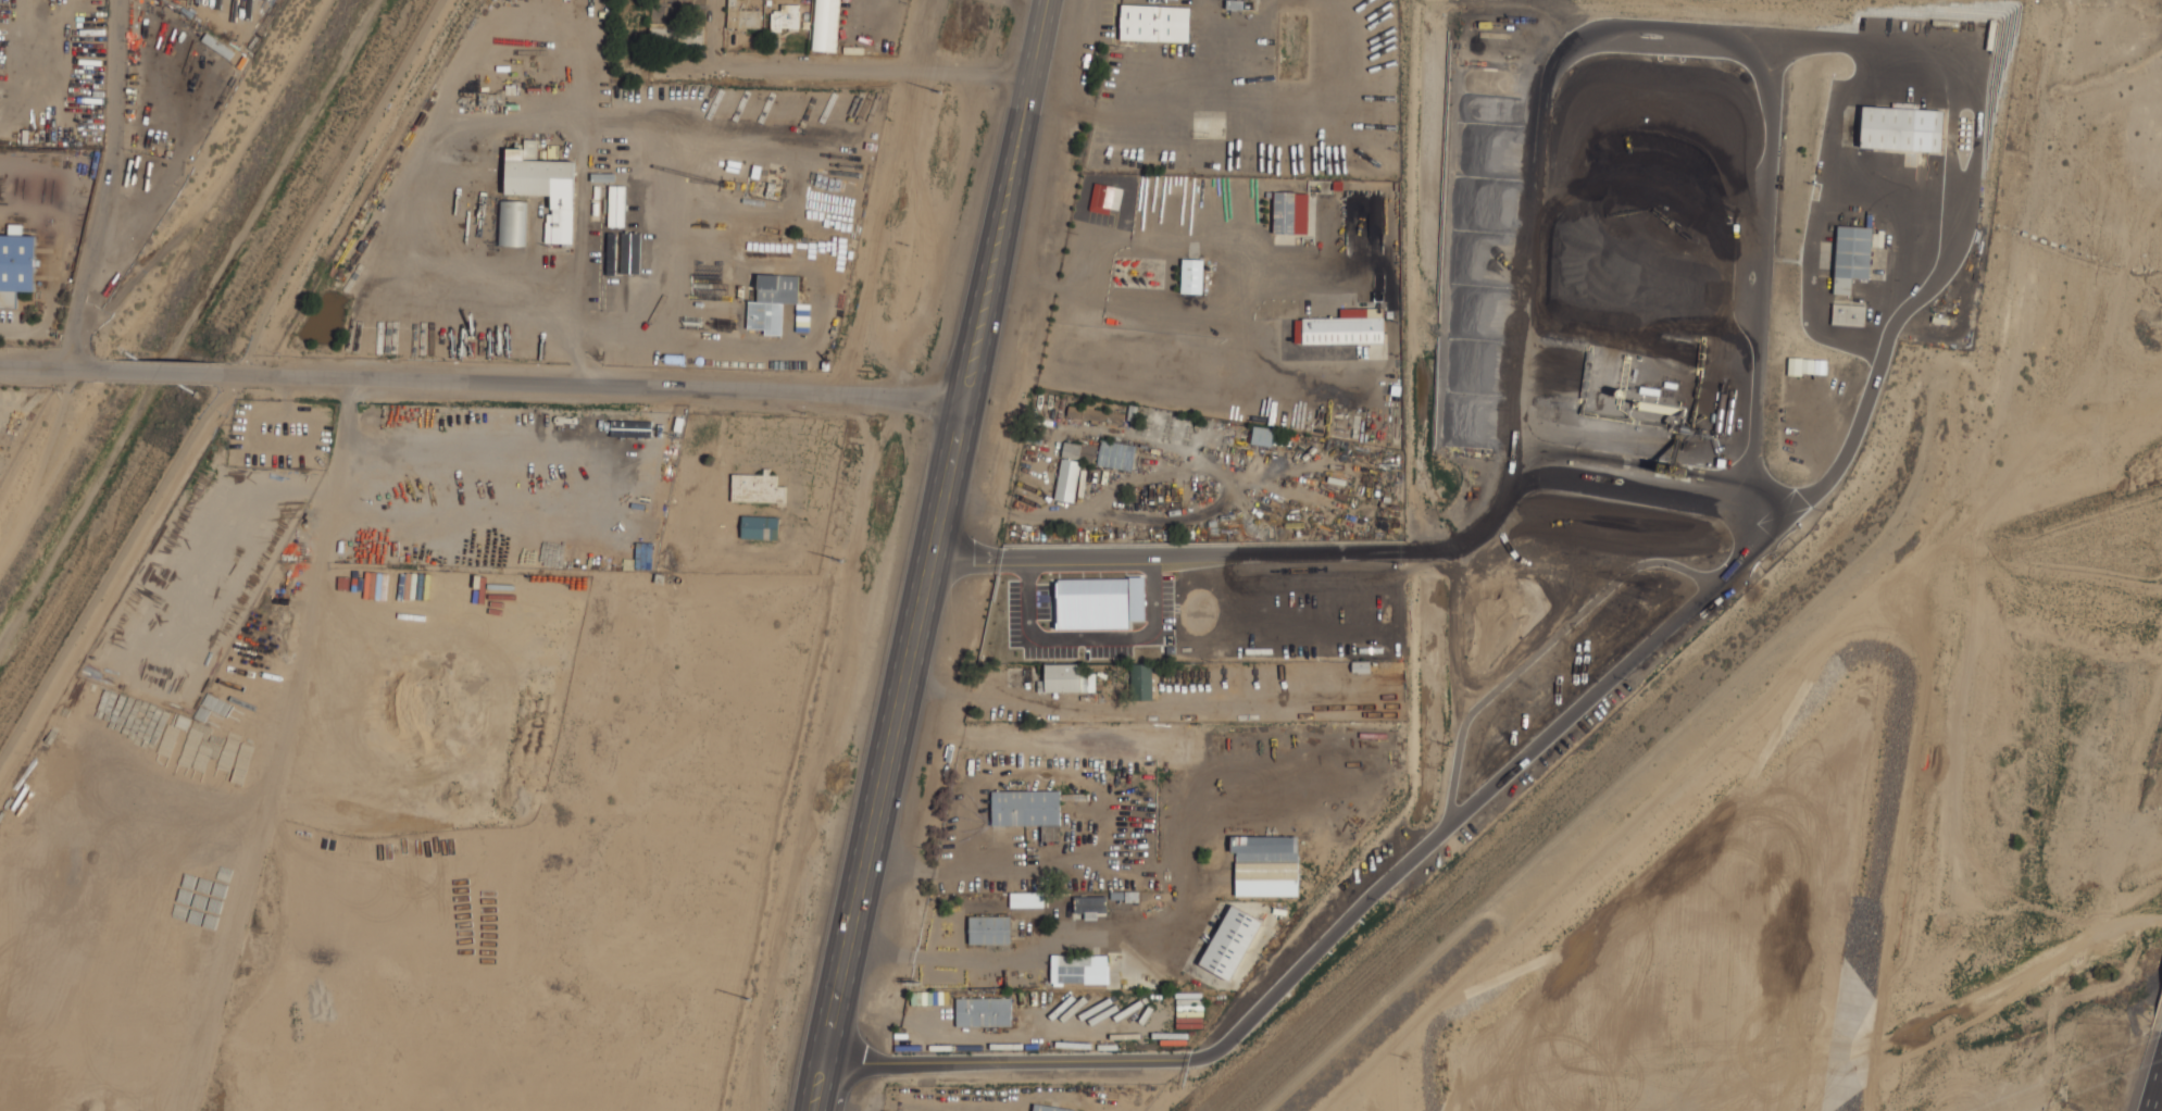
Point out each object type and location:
building: (738, 16)
building: (785, 17)
building: (1154, 23)
building: (825, 25)
road: (833, 68)
building: (1901, 128)
road: (1952, 182)
building: (543, 185)
road: (103, 186)
building: (1104, 200)
building: (1290, 212)
building: (512, 223)
road: (1119, 244)
building: (1851, 255)
road: (580, 260)
building: (16, 266)
building: (1192, 275)
building: (772, 301)
building: (1848, 314)
building: (1345, 327)
road: (47, 371)
road: (151, 372)
road: (588, 384)
road: (230, 385)
building: (1262, 435)
building: (1071, 450)
building: (1116, 454)
building: (1067, 479)
building: (755, 488)
road: (1648, 494)
building: (759, 527)
road: (934, 555)
building: (1067, 678)
building: (1140, 681)
building: (1025, 807)
road: (1110, 832)
building: (1265, 864)
building: (1090, 903)
building: (989, 929)
building: (1230, 943)
road: (977, 960)
building: (1079, 969)
building: (983, 1011)
road: (975, 1035)
road: (2150, 1072)
building: (1050, 1108)

